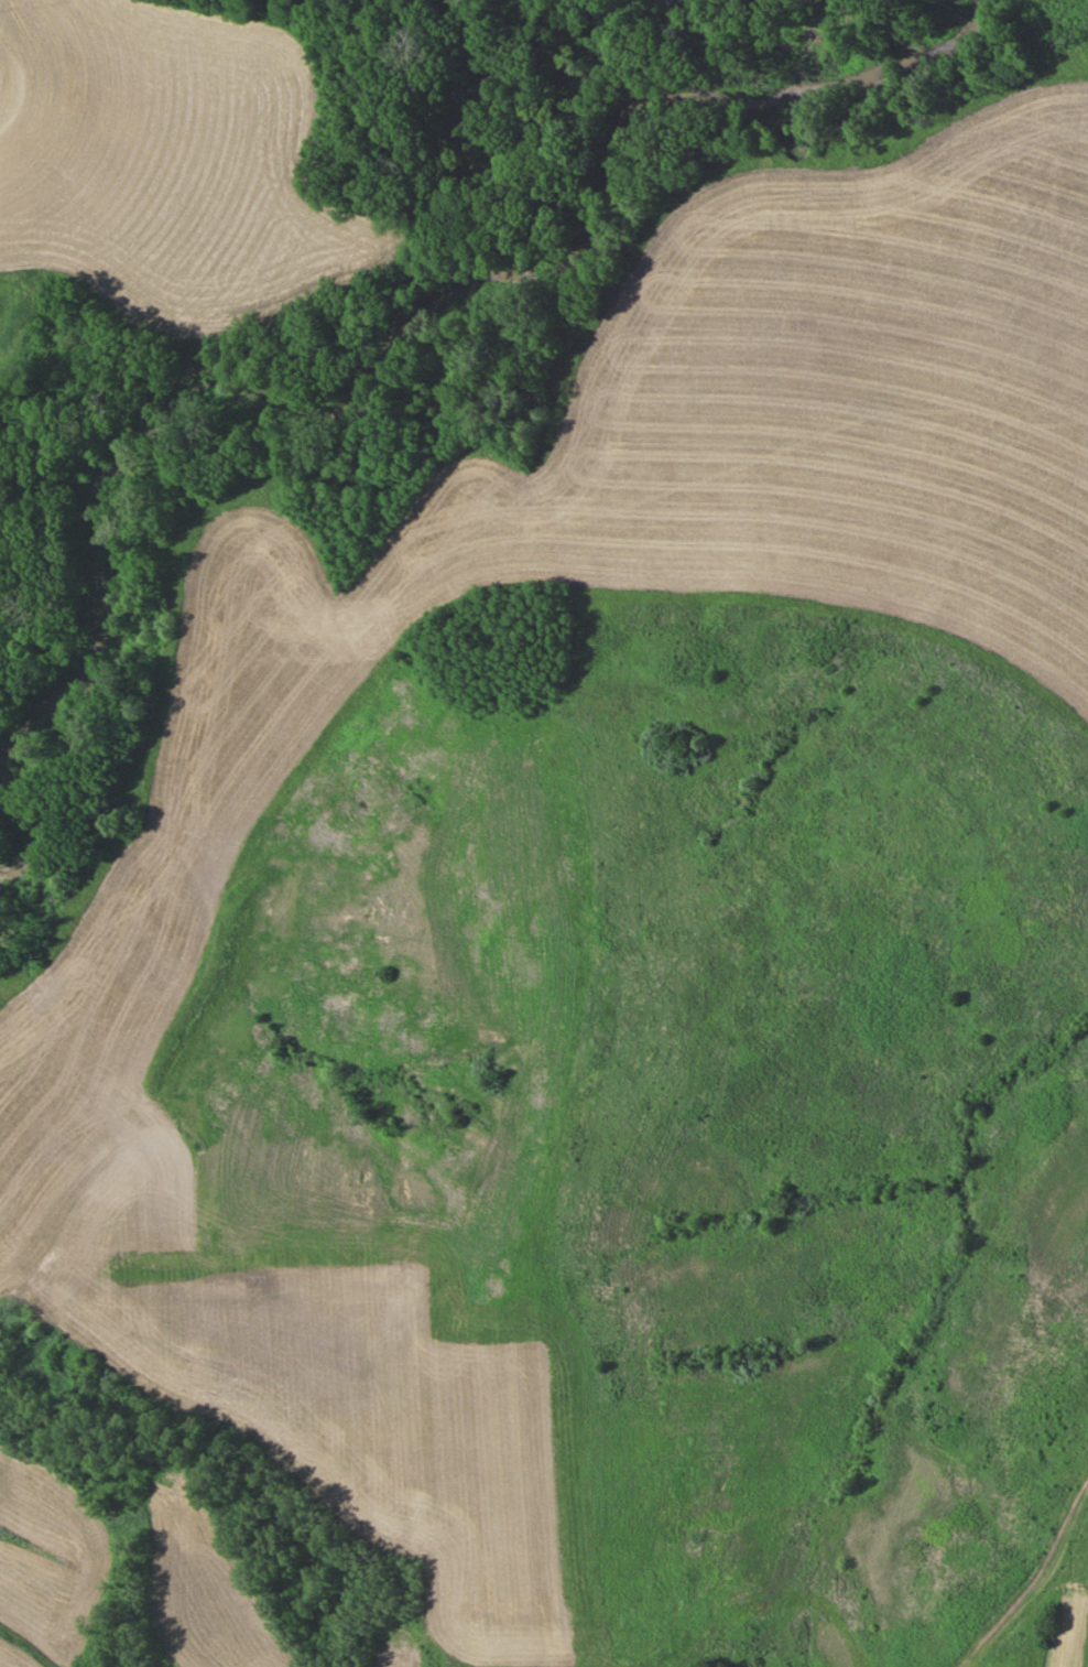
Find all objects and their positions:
power tower: (1075, 42)

